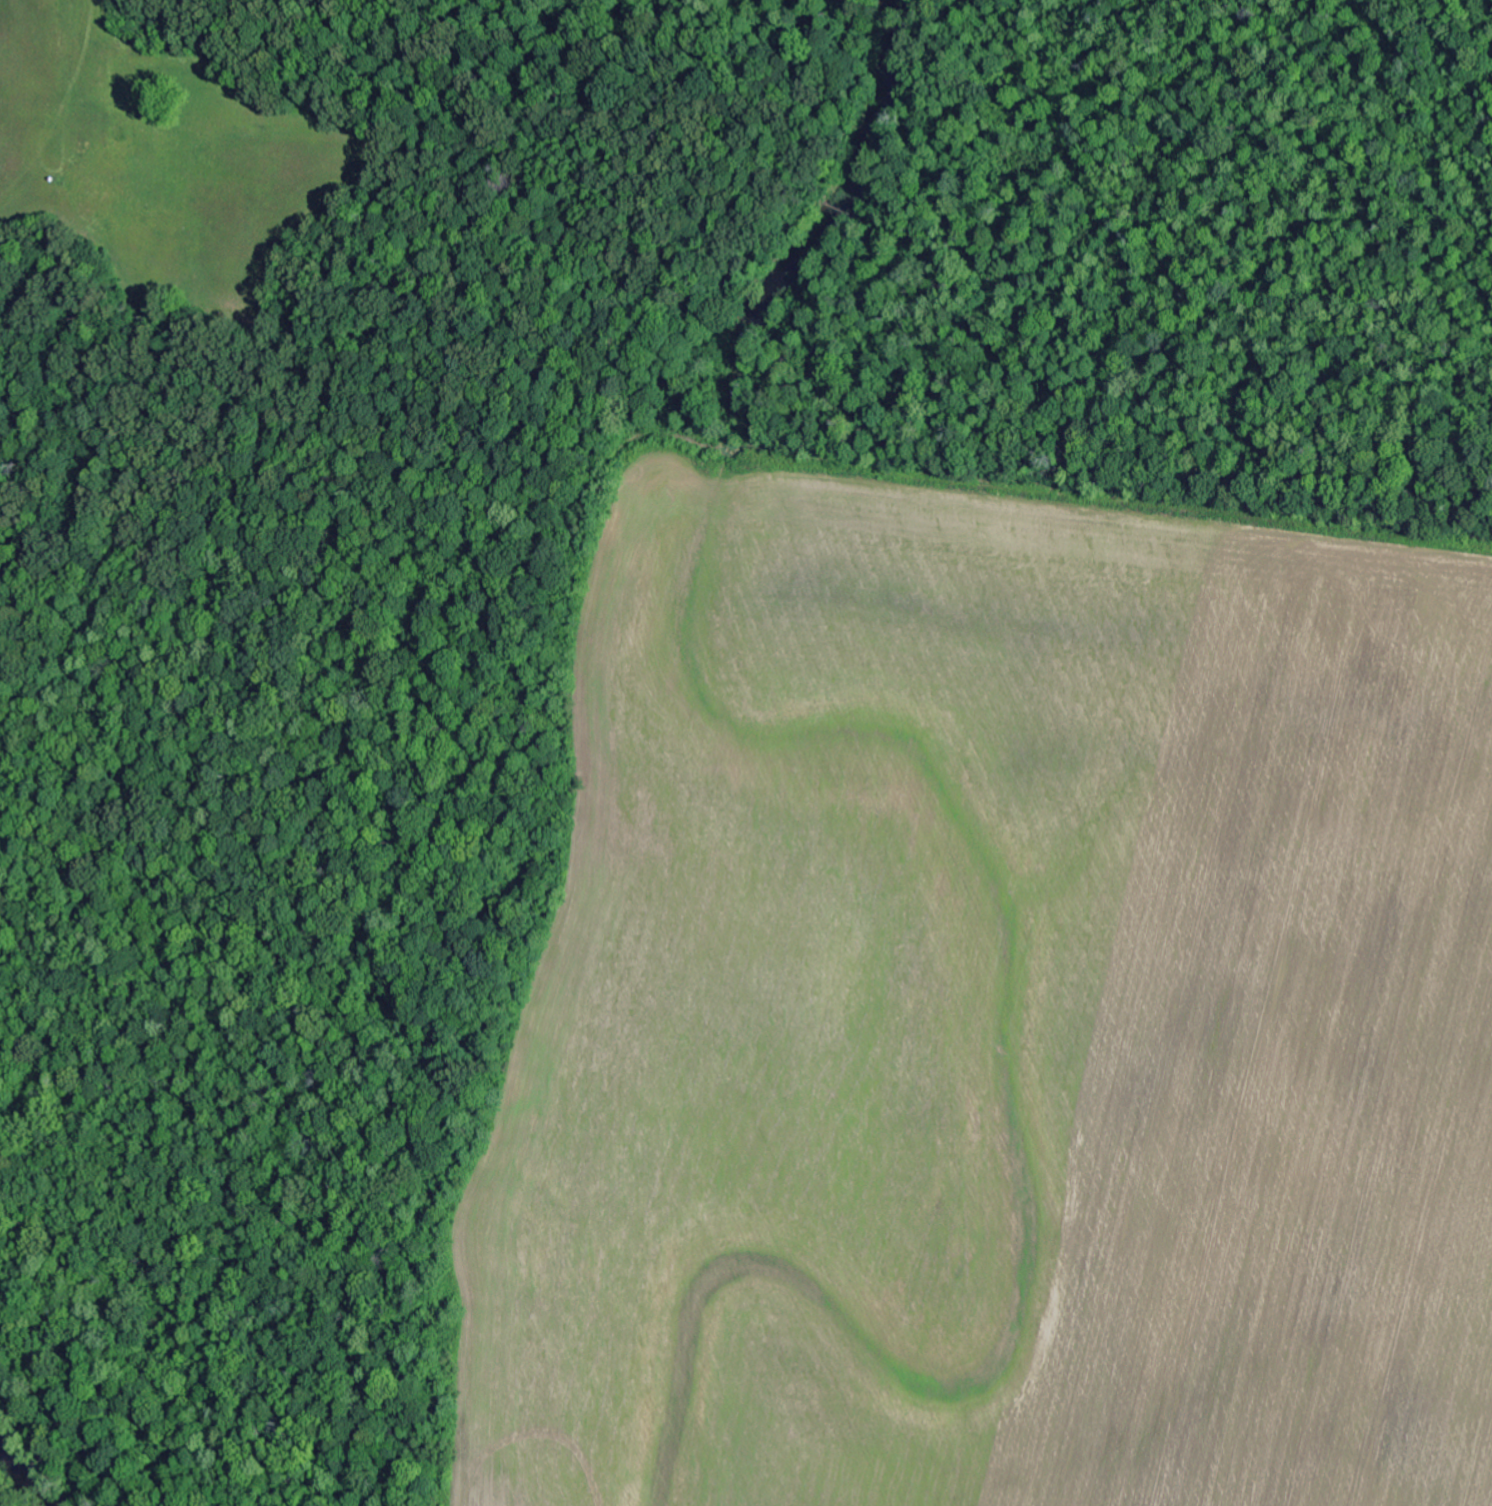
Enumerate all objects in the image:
road: (5, 16)

